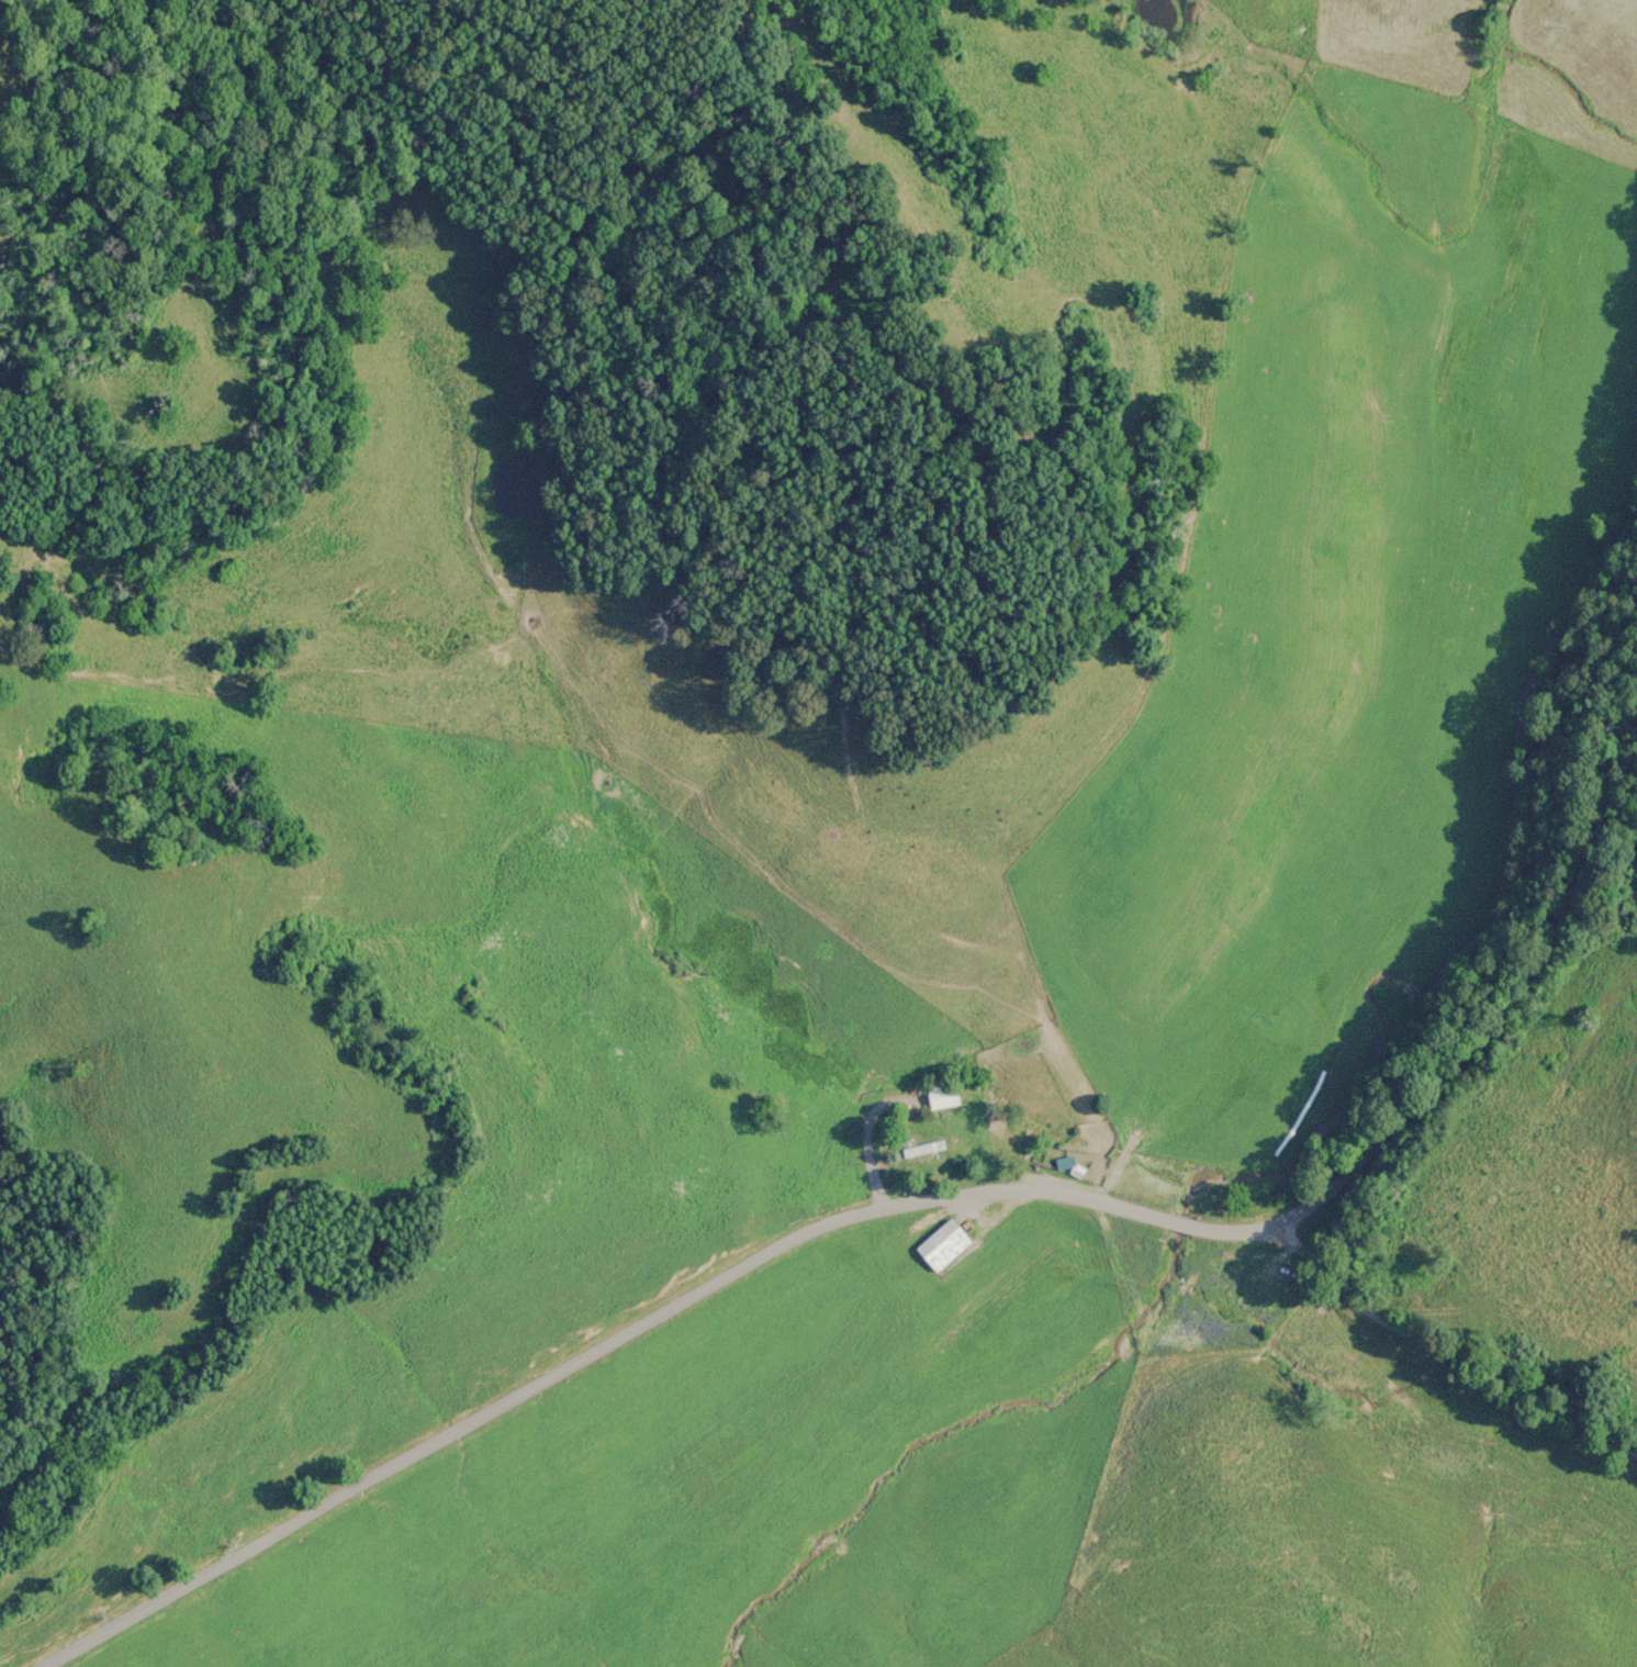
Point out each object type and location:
road: (1485, 1054)
building: (943, 1096)
building: (922, 1141)
building: (1074, 1167)
road: (1182, 1220)
road: (1242, 1227)
building: (943, 1244)
road: (1333, 1267)
road: (595, 1355)
road: (1507, 1377)

